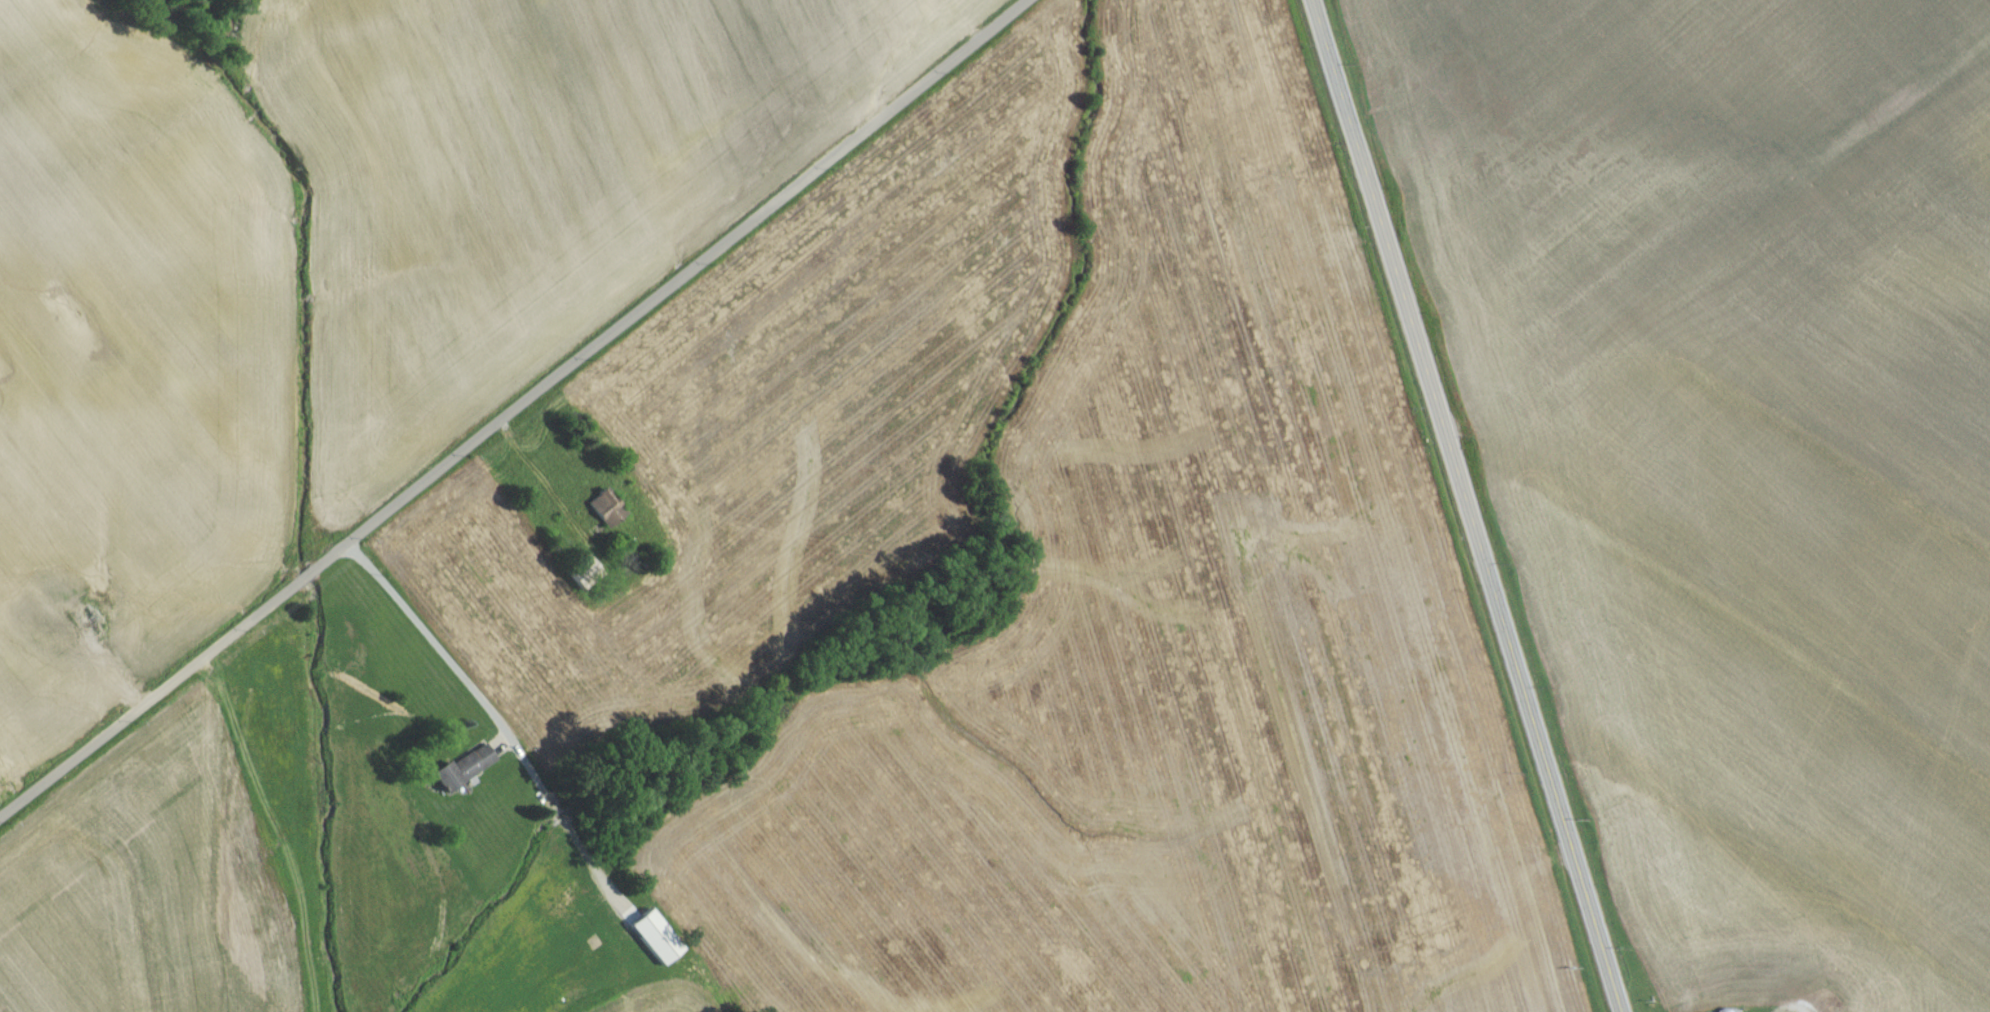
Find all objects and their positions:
road: (513, 409)
road: (1462, 506)
building: (605, 514)
building: (580, 577)
building: (35, 607)
building: (46, 622)
road: (492, 714)
building: (462, 773)
building: (559, 914)
building: (654, 942)

